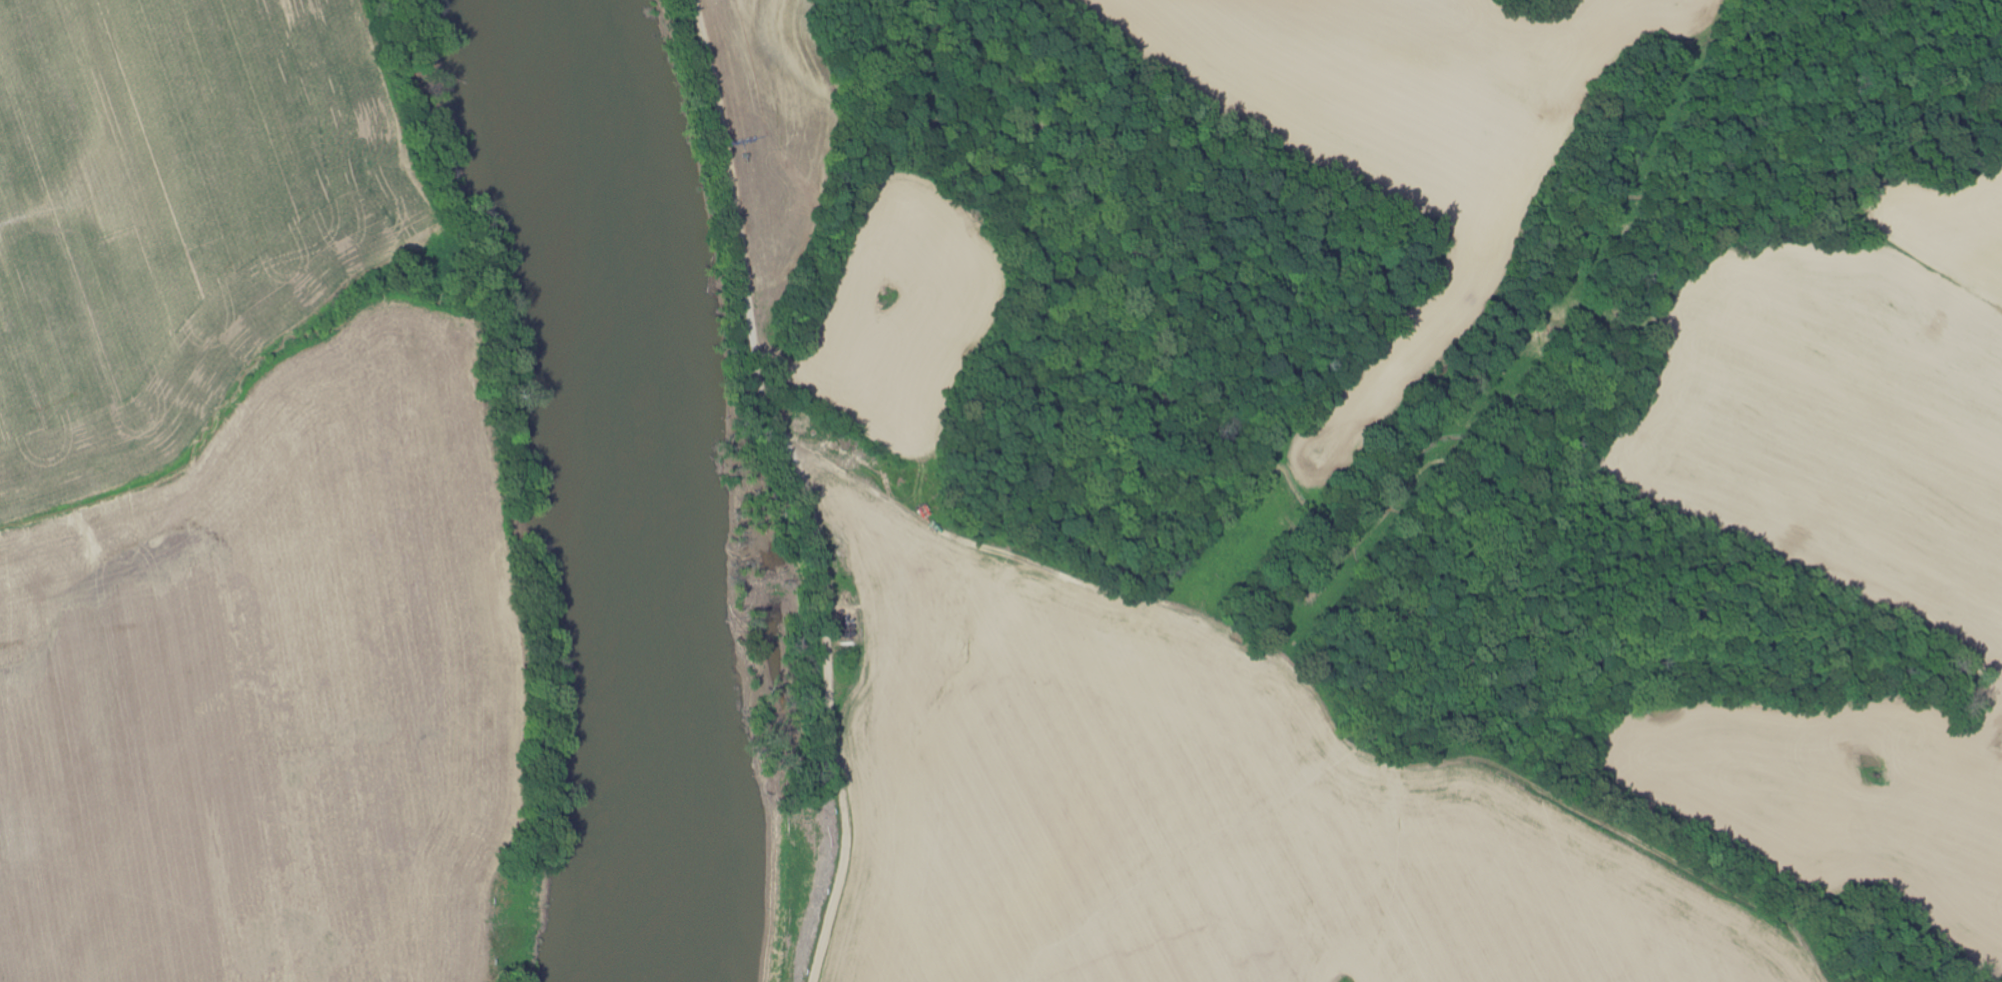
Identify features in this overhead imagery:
river: (609, 485)

